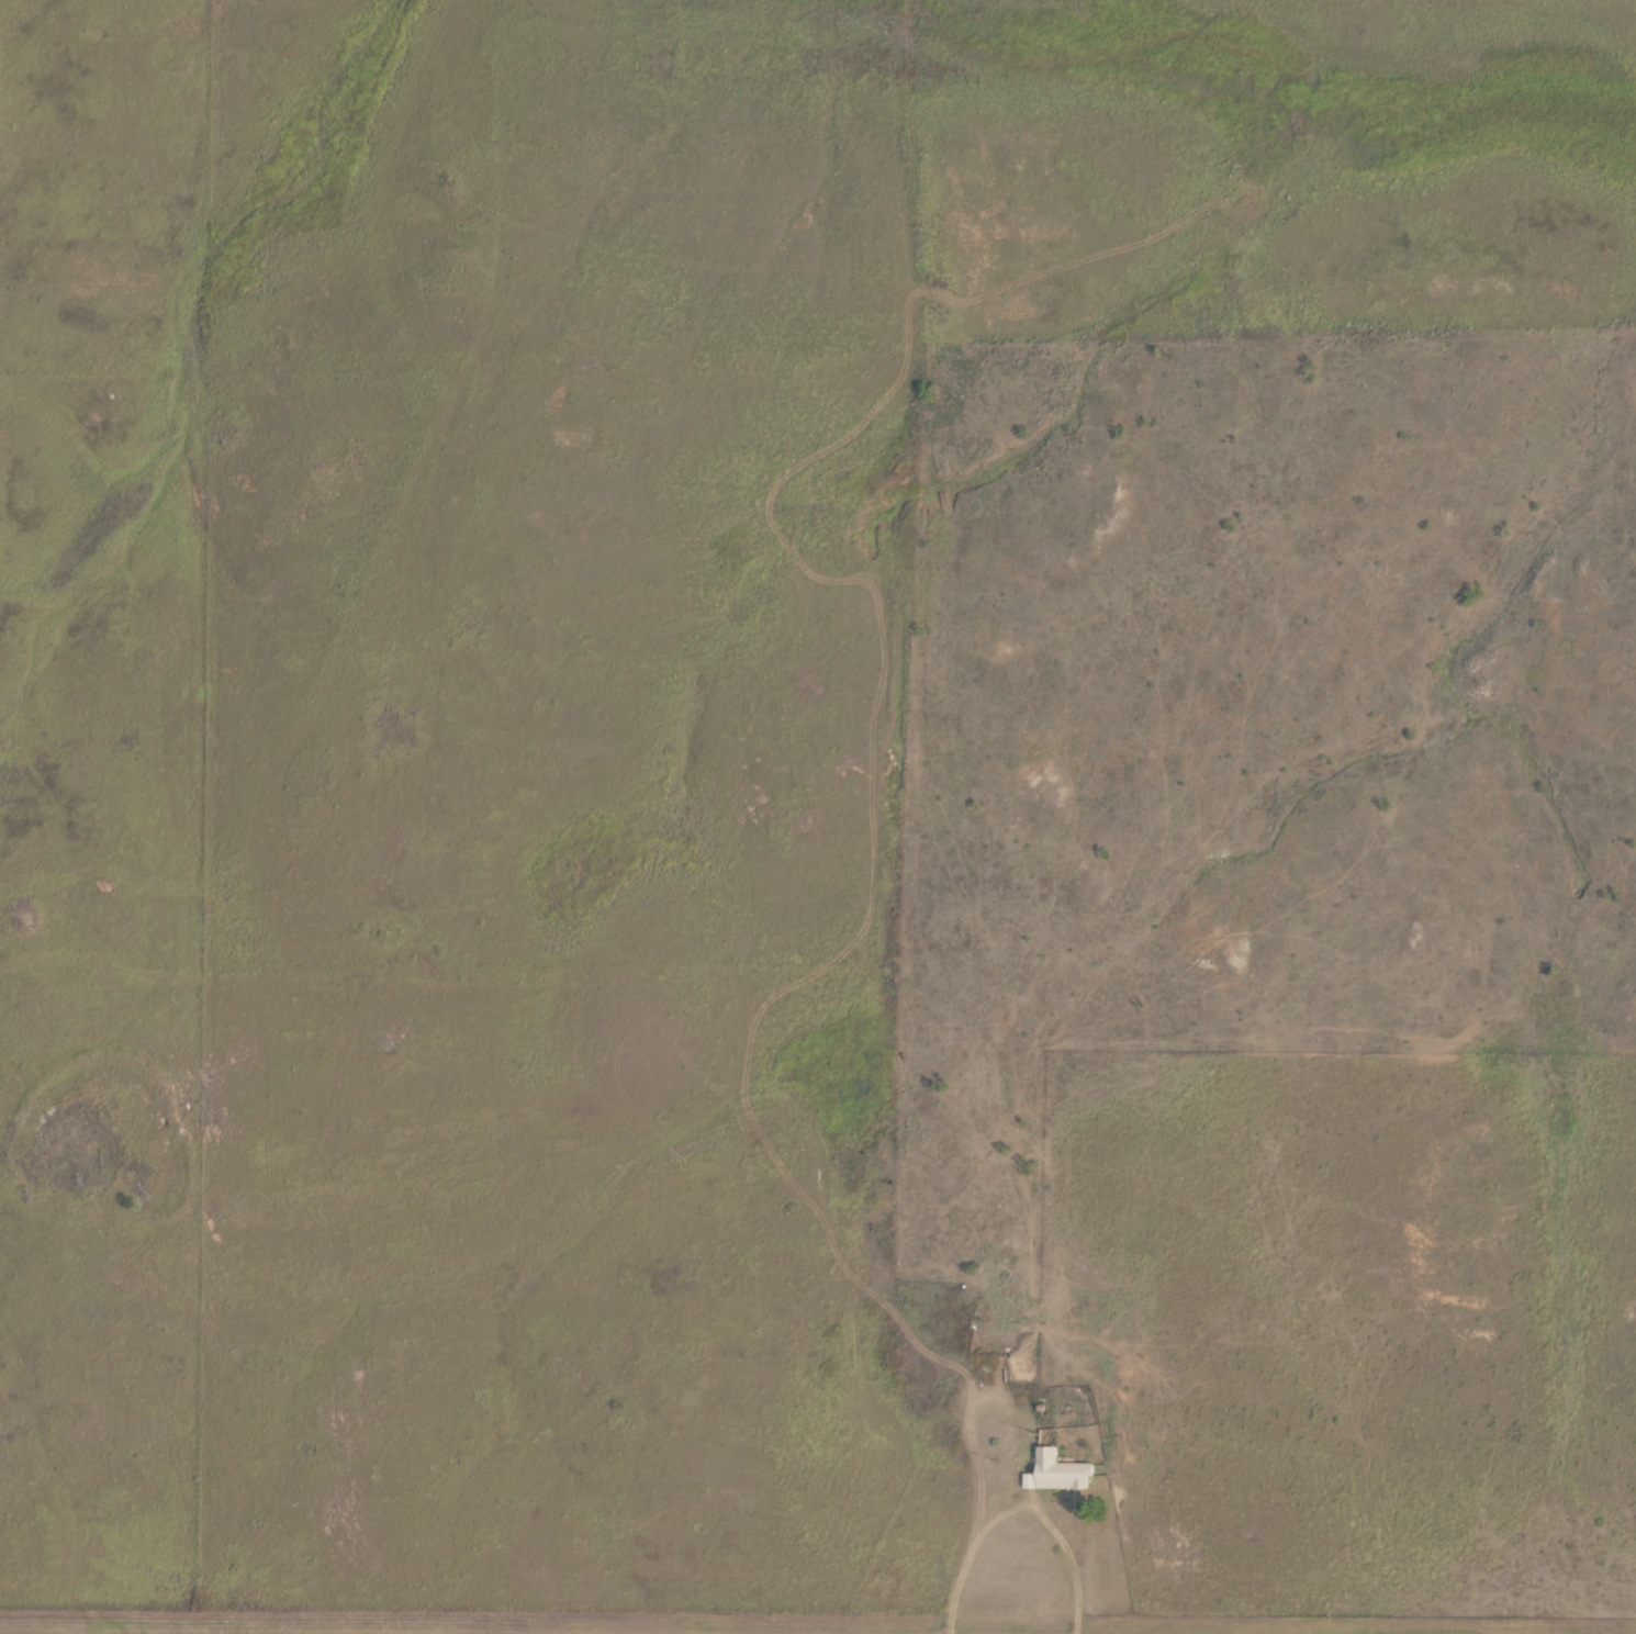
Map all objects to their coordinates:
building: (1064, 1471)

